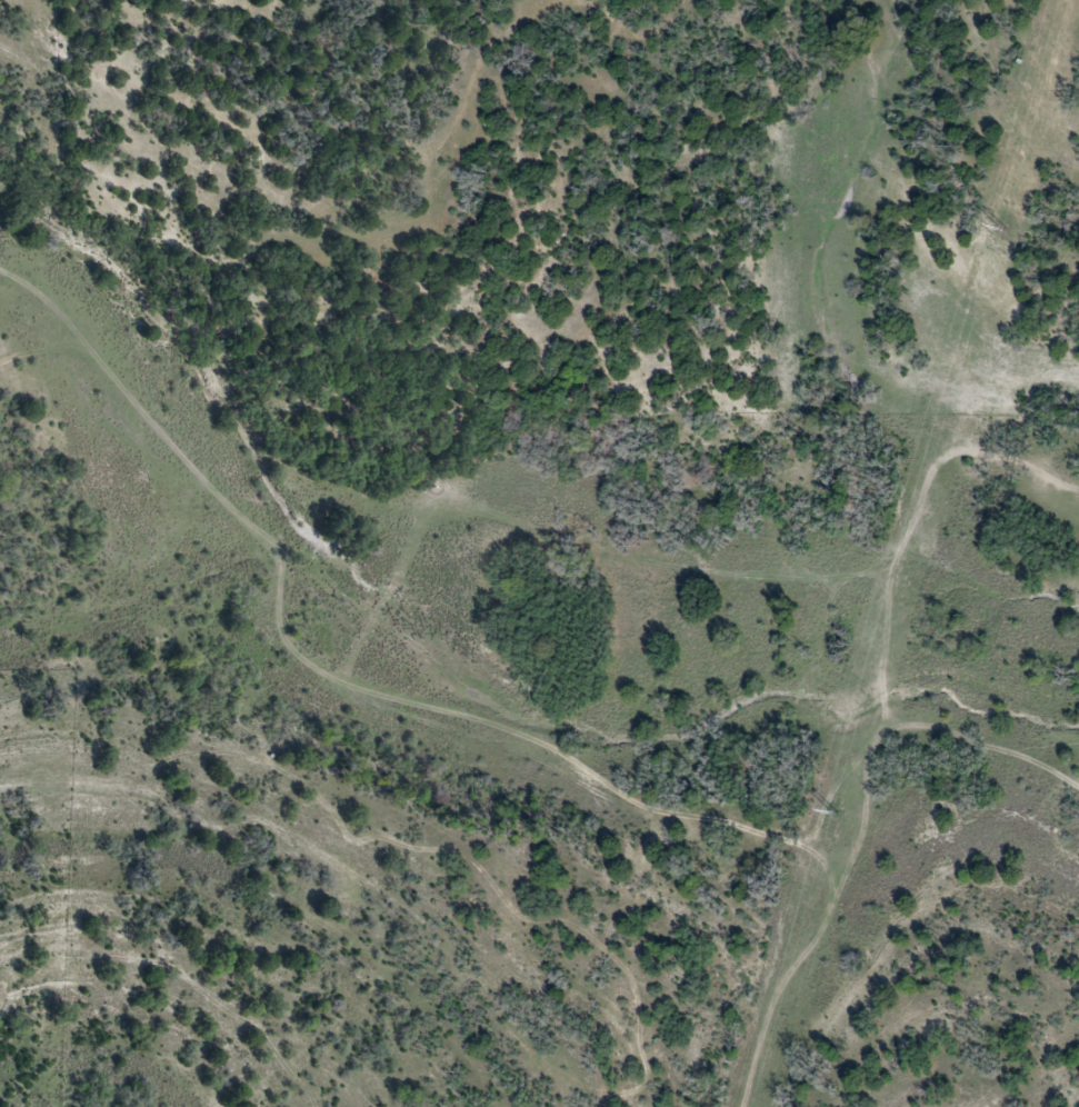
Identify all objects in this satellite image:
power tower: (1001, 226)
power tower: (837, 805)

